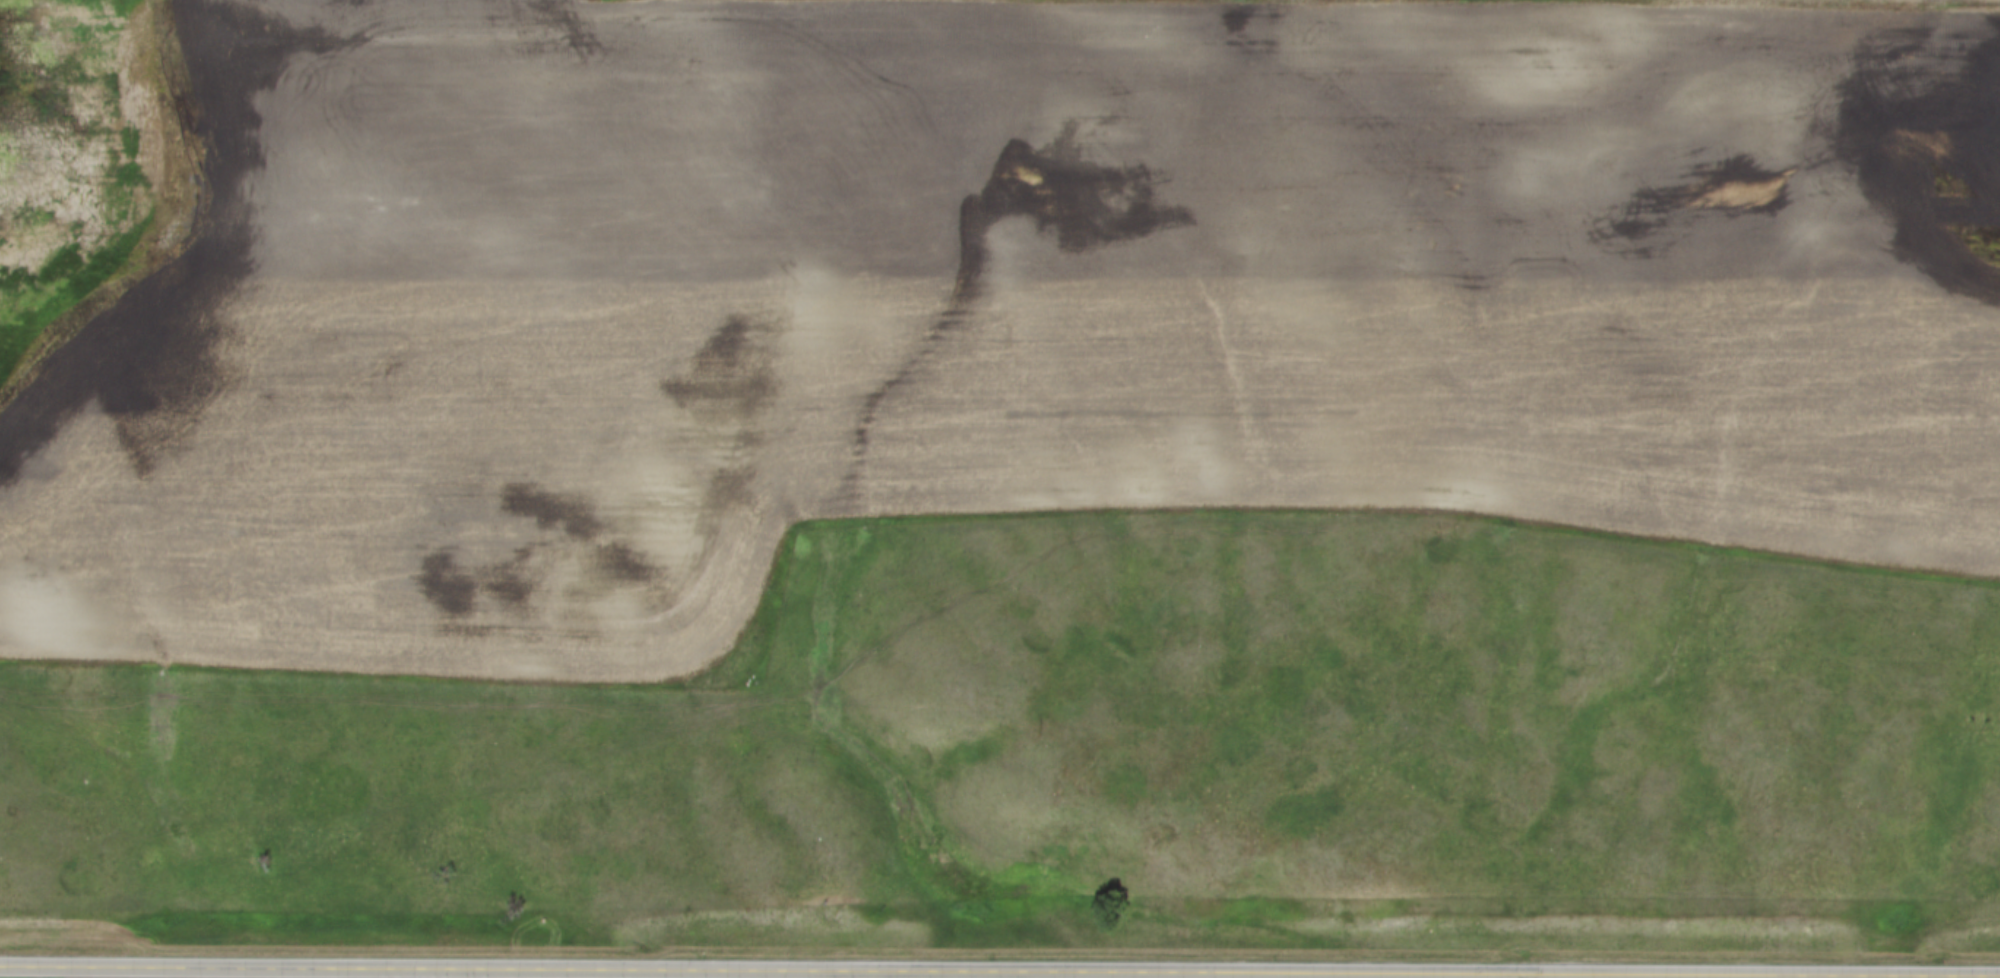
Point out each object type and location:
road: (993, 973)

